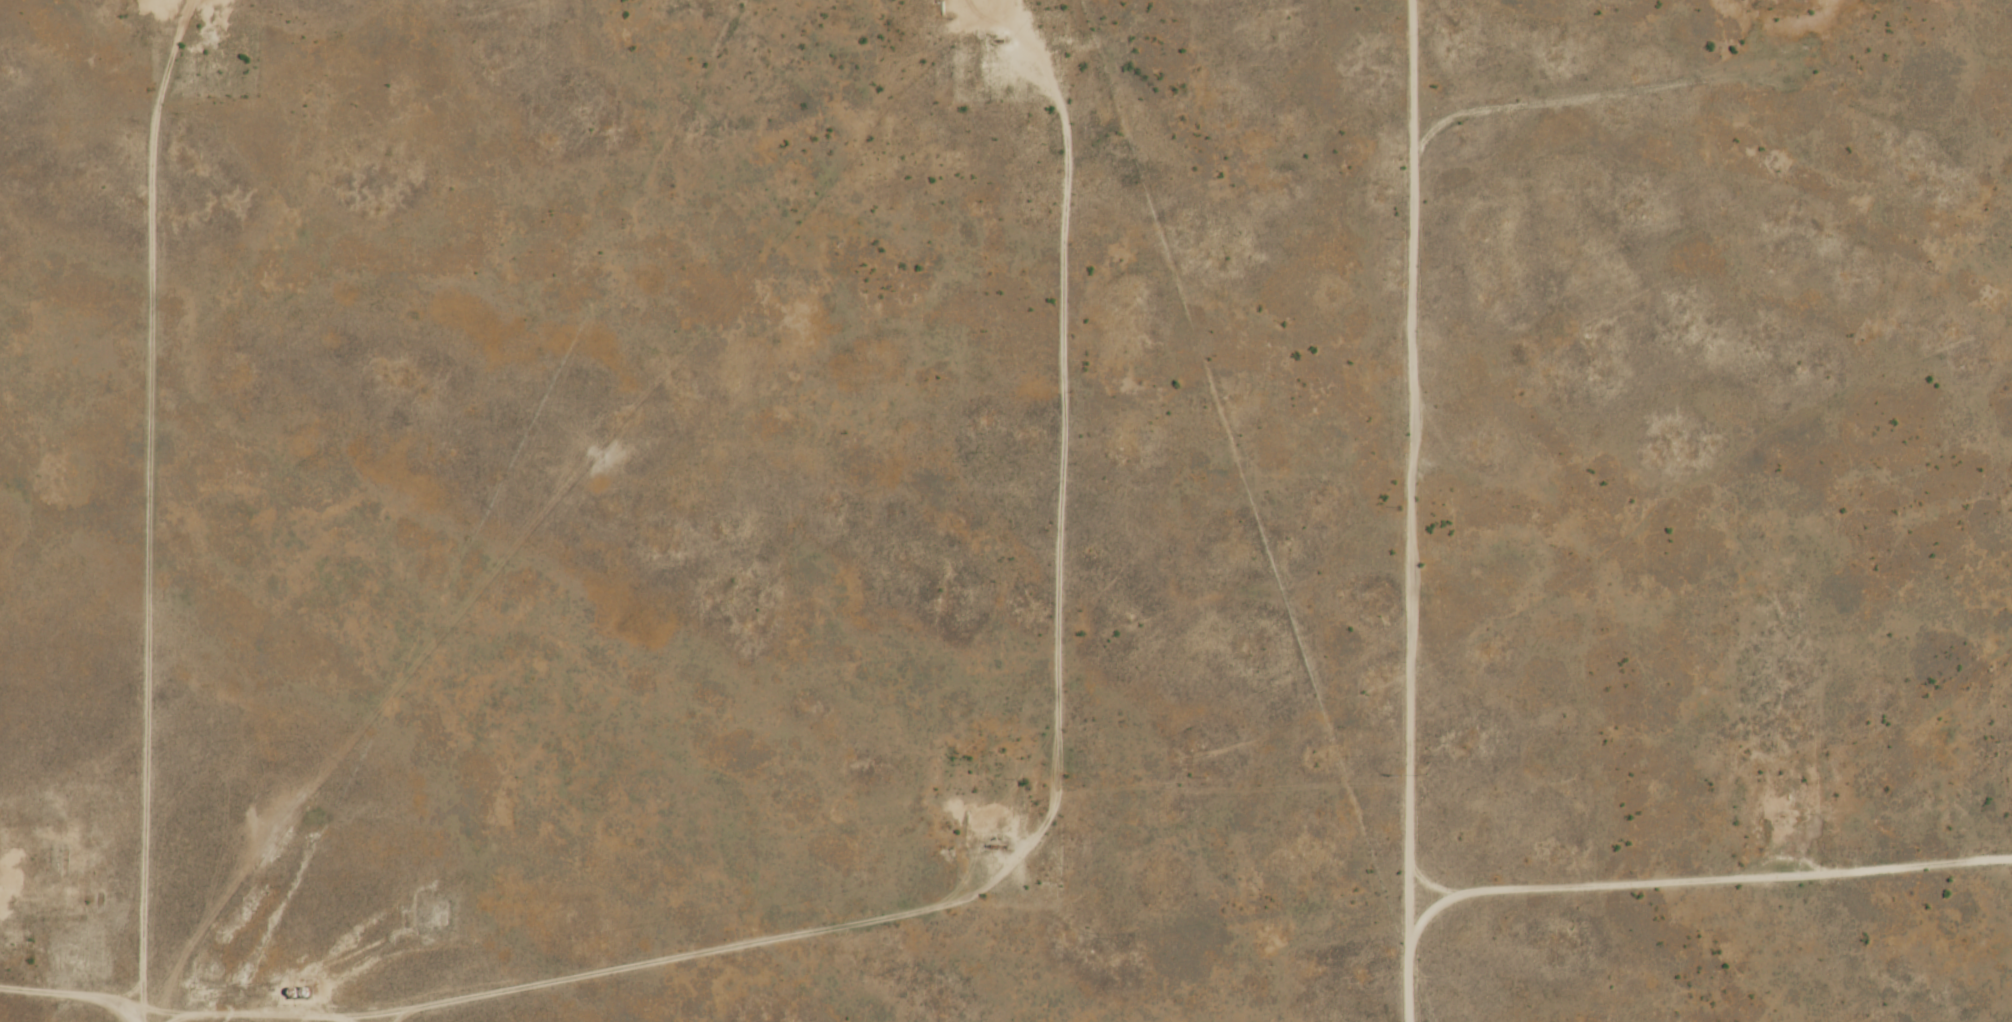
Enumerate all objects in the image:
road: (1389, 510)
road: (146, 575)
road: (1705, 866)
road: (1046, 919)
road: (69, 997)
road: (351, 1013)

